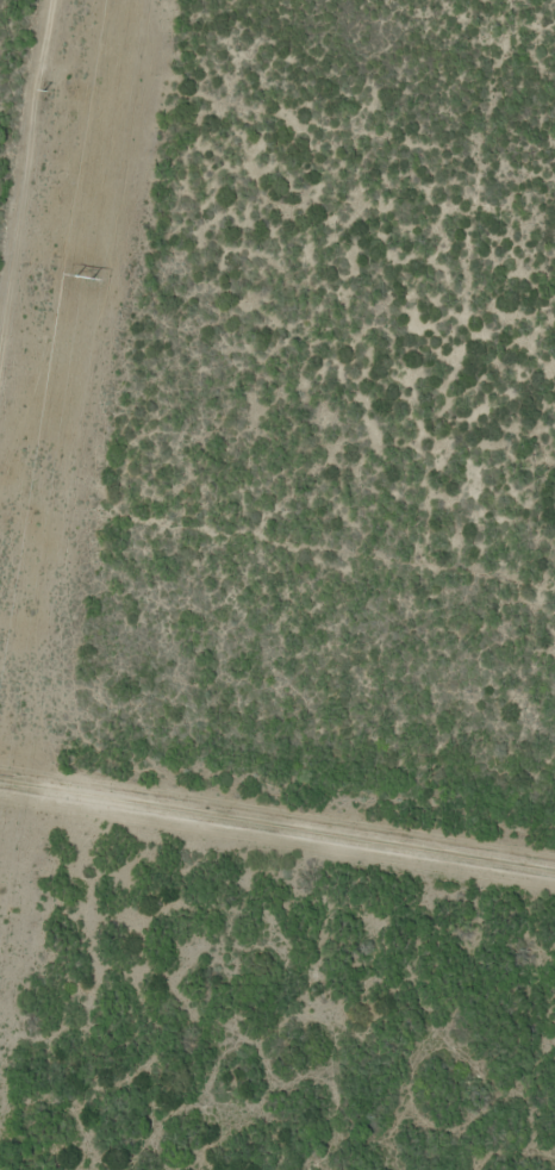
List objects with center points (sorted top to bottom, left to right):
power tower: (83, 276)

